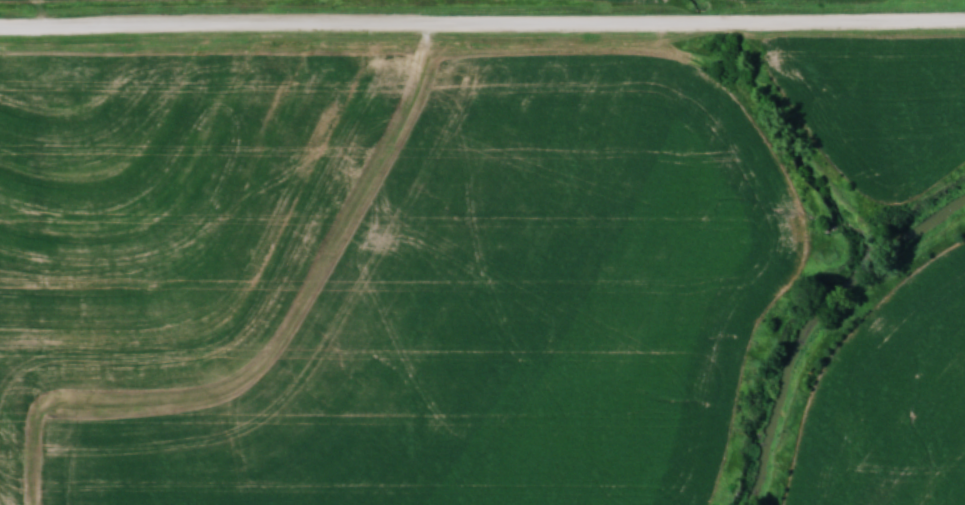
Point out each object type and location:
road: (482, 25)

